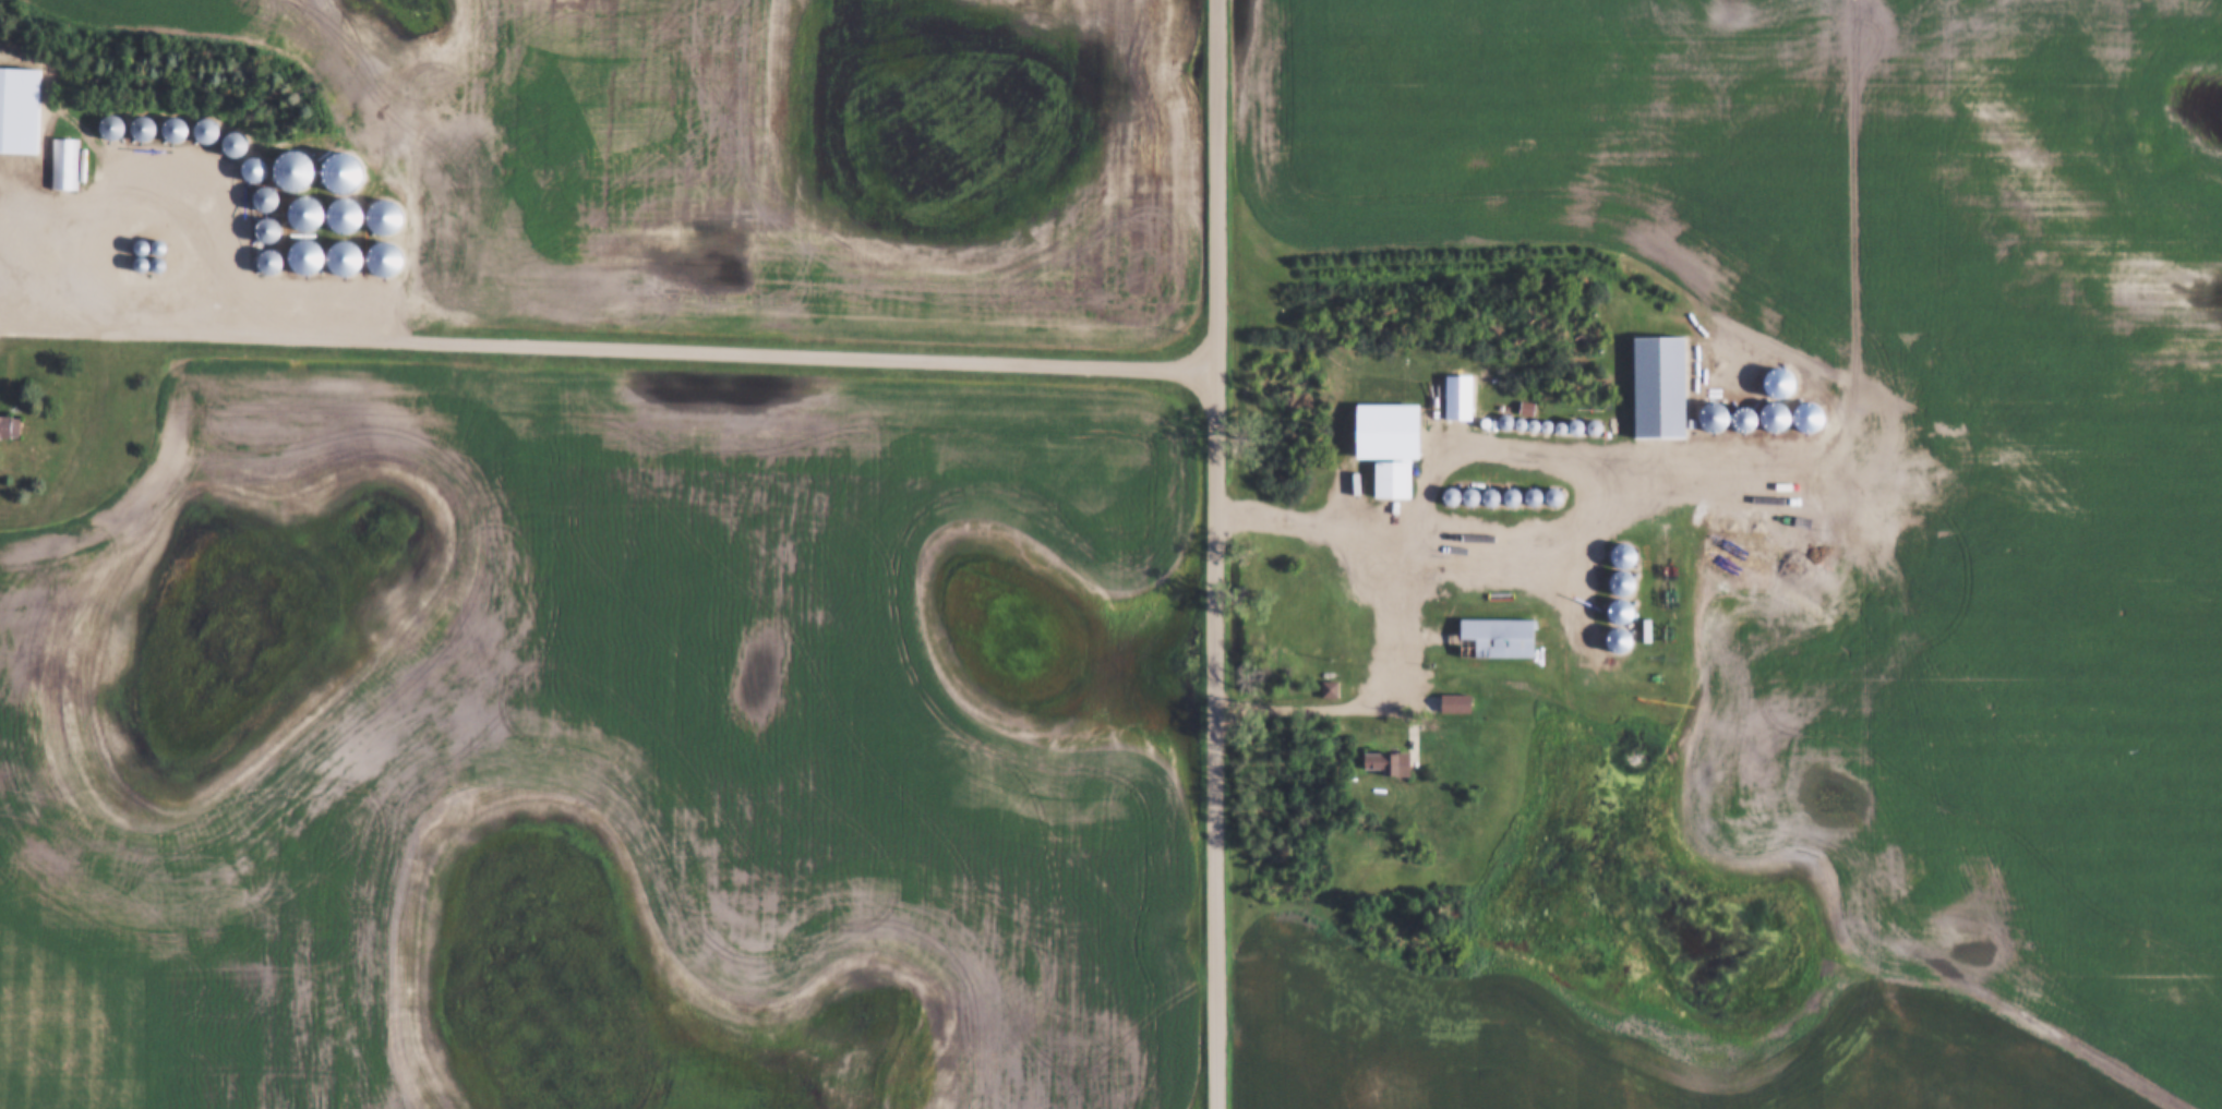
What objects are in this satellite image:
building: (7, 143)
building: (70, 171)
road: (399, 338)
building: (1648, 389)
building: (11, 430)
building: (1382, 481)
road: (1220, 554)
road: (1408, 619)
building: (1488, 640)
building: (1372, 762)

